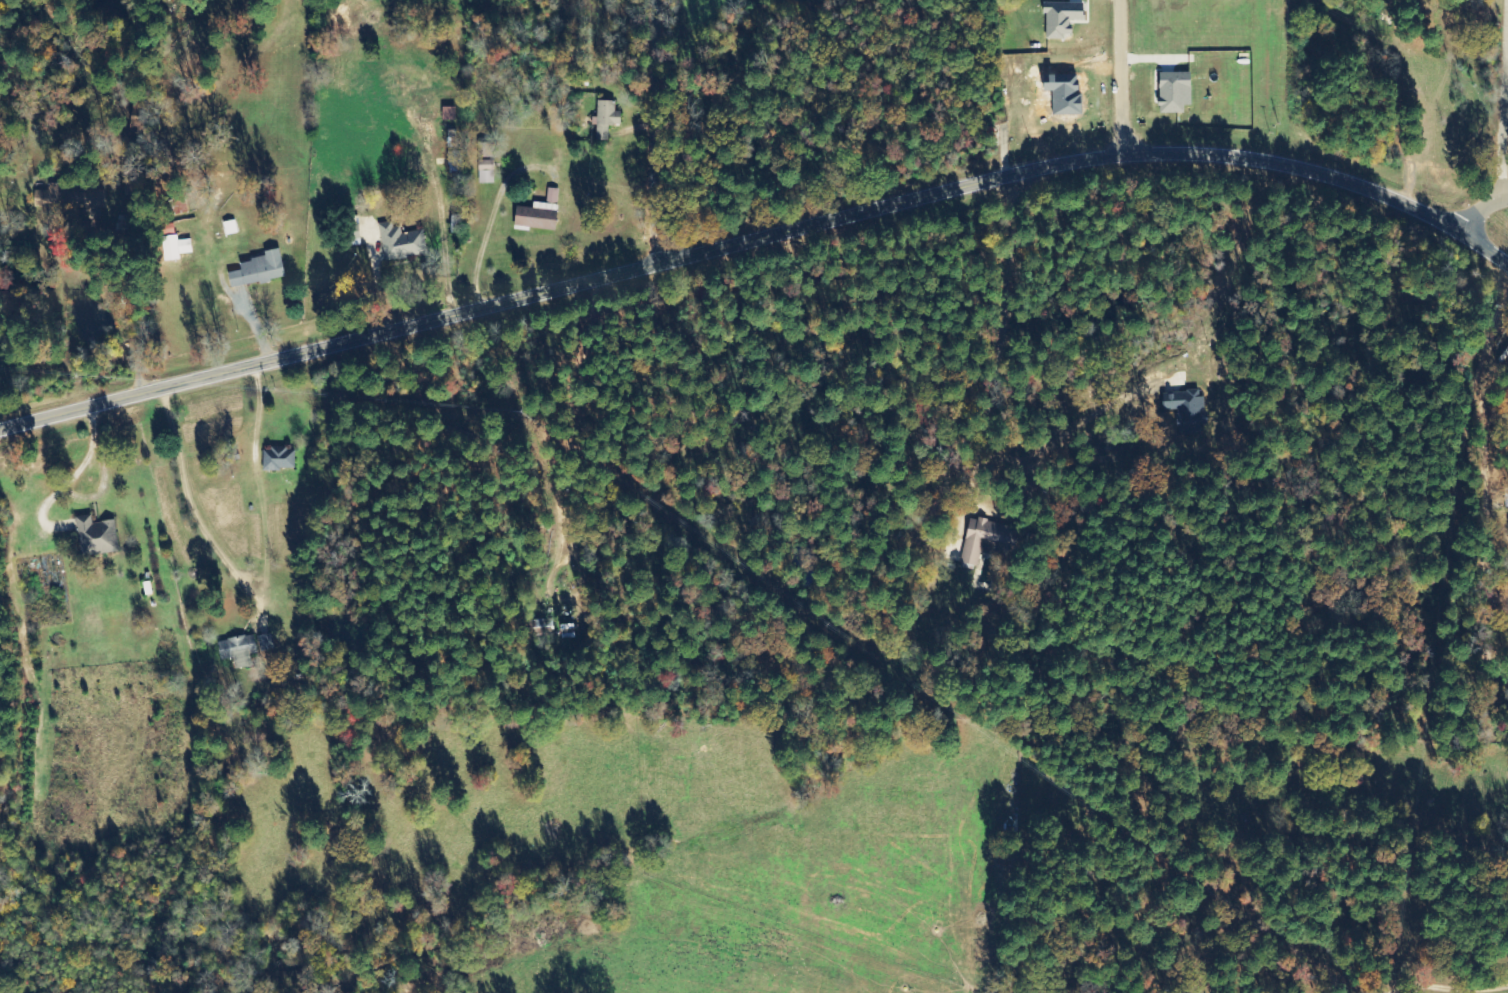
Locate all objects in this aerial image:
building: (1062, 18)
road: (1132, 79)
building: (1175, 92)
building: (449, 114)
building: (606, 118)
road: (657, 133)
building: (453, 138)
building: (455, 161)
building: (486, 172)
building: (552, 195)
building: (51, 197)
road: (1485, 211)
building: (538, 216)
building: (402, 242)
road: (758, 243)
building: (177, 248)
building: (260, 270)
road: (1028, 274)
building: (1187, 408)
road: (477, 424)
road: (1434, 444)
building: (279, 459)
building: (97, 537)
building: (984, 541)
road: (92, 636)
building: (267, 642)
building: (239, 649)

